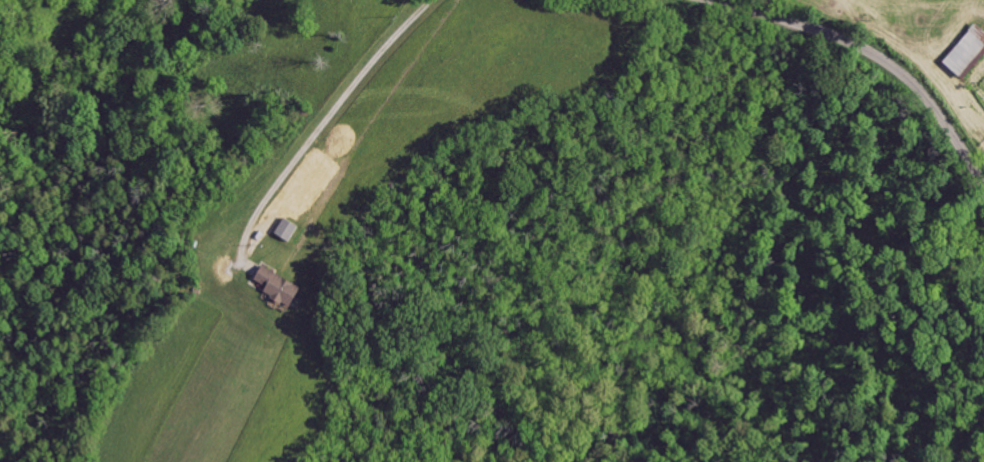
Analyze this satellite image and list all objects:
road: (871, 52)
building: (969, 52)
road: (321, 124)
building: (291, 229)
building: (284, 286)

